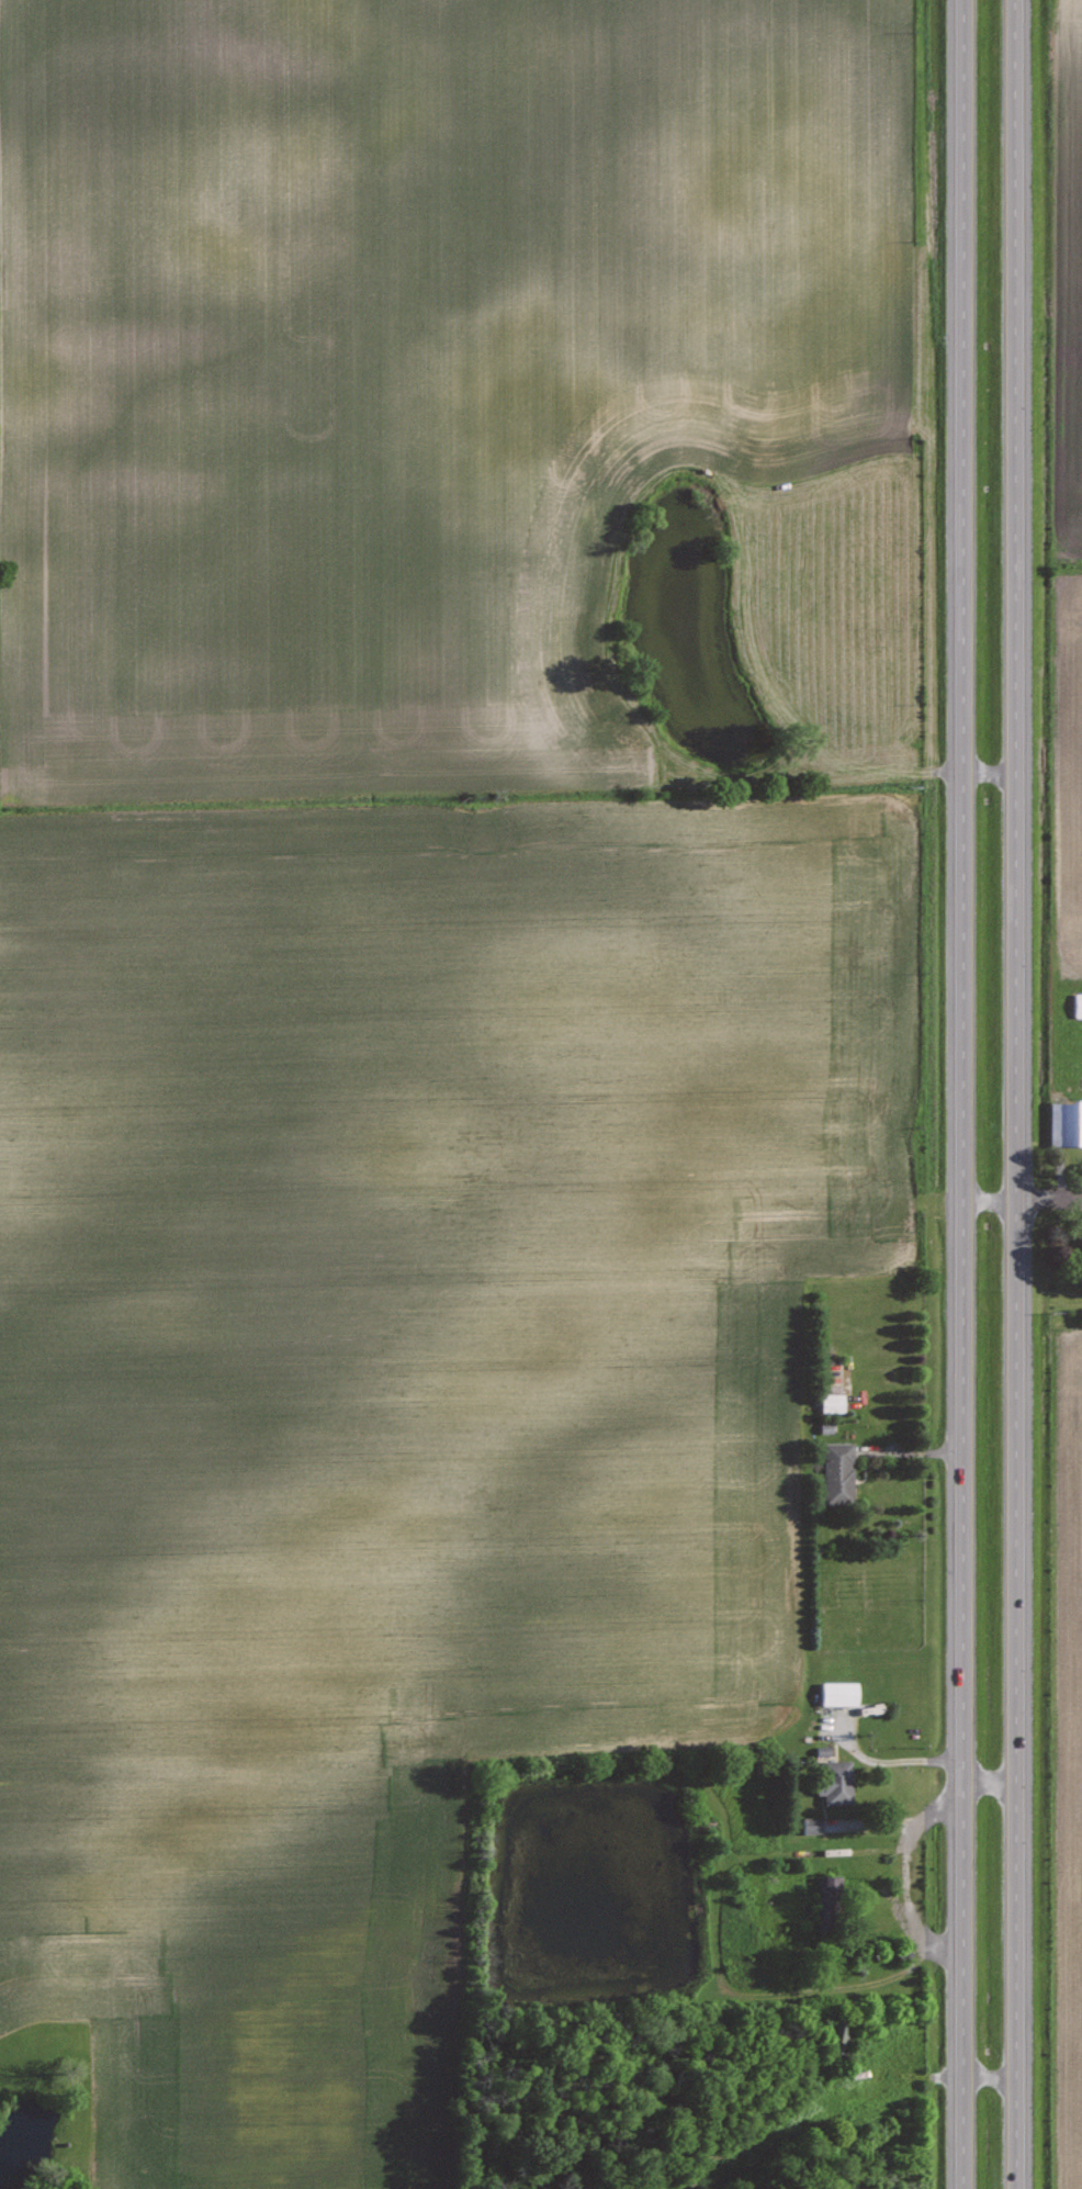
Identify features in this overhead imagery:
road: (789, 684)
building: (1078, 1004)
road: (961, 1093)
road: (1013, 1093)
building: (1066, 1123)
building: (832, 1400)
building: (837, 1471)
building: (839, 1692)
road: (888, 1760)
building: (835, 1781)
building: (827, 1890)

